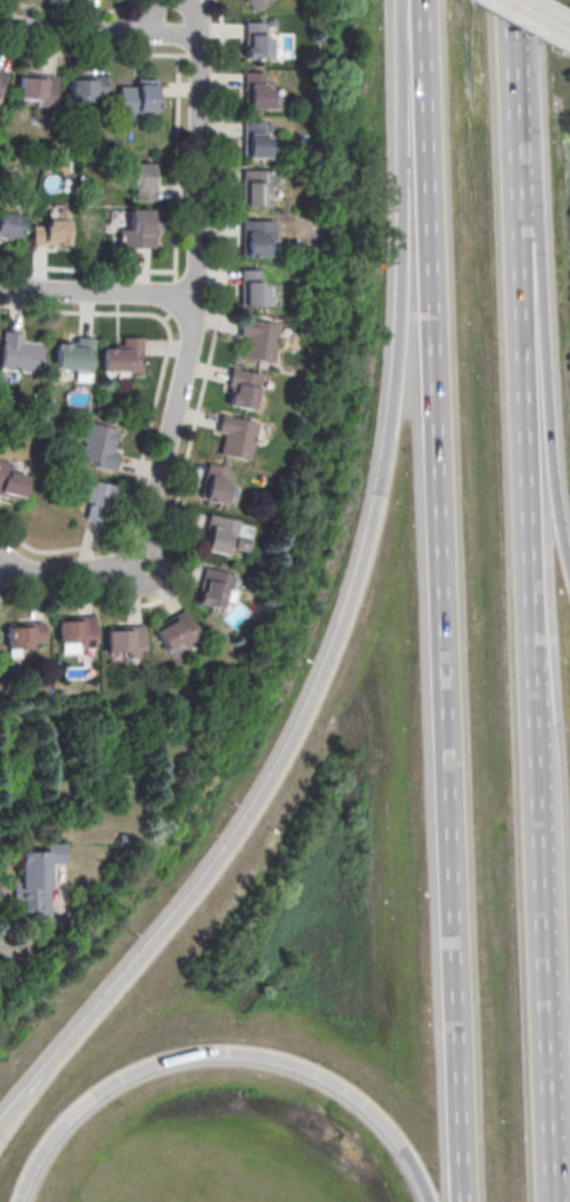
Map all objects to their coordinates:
building: (255, 4)
road: (416, 5)
road: (93, 12)
road: (156, 13)
road: (540, 14)
road: (198, 19)
road: (519, 32)
building: (256, 43)
building: (2, 79)
building: (87, 88)
building: (36, 89)
building: (255, 92)
building: (136, 95)
building: (255, 142)
building: (140, 181)
building: (253, 190)
road: (198, 206)
building: (10, 225)
building: (137, 228)
building: (49, 232)
building: (256, 238)
road: (175, 268)
building: (251, 290)
road: (96, 293)
road: (547, 311)
road: (82, 314)
building: (259, 342)
building: (19, 356)
building: (74, 356)
building: (123, 356)
road: (201, 388)
building: (240, 389)
building: (237, 438)
building: (99, 445)
building: (11, 481)
building: (214, 483)
building: (95, 501)
building: (224, 536)
road: (67, 572)
building: (214, 588)
road: (346, 622)
building: (175, 631)
road: (535, 633)
building: (24, 634)
building: (74, 634)
building: (124, 640)
building: (36, 881)
road: (27, 956)

